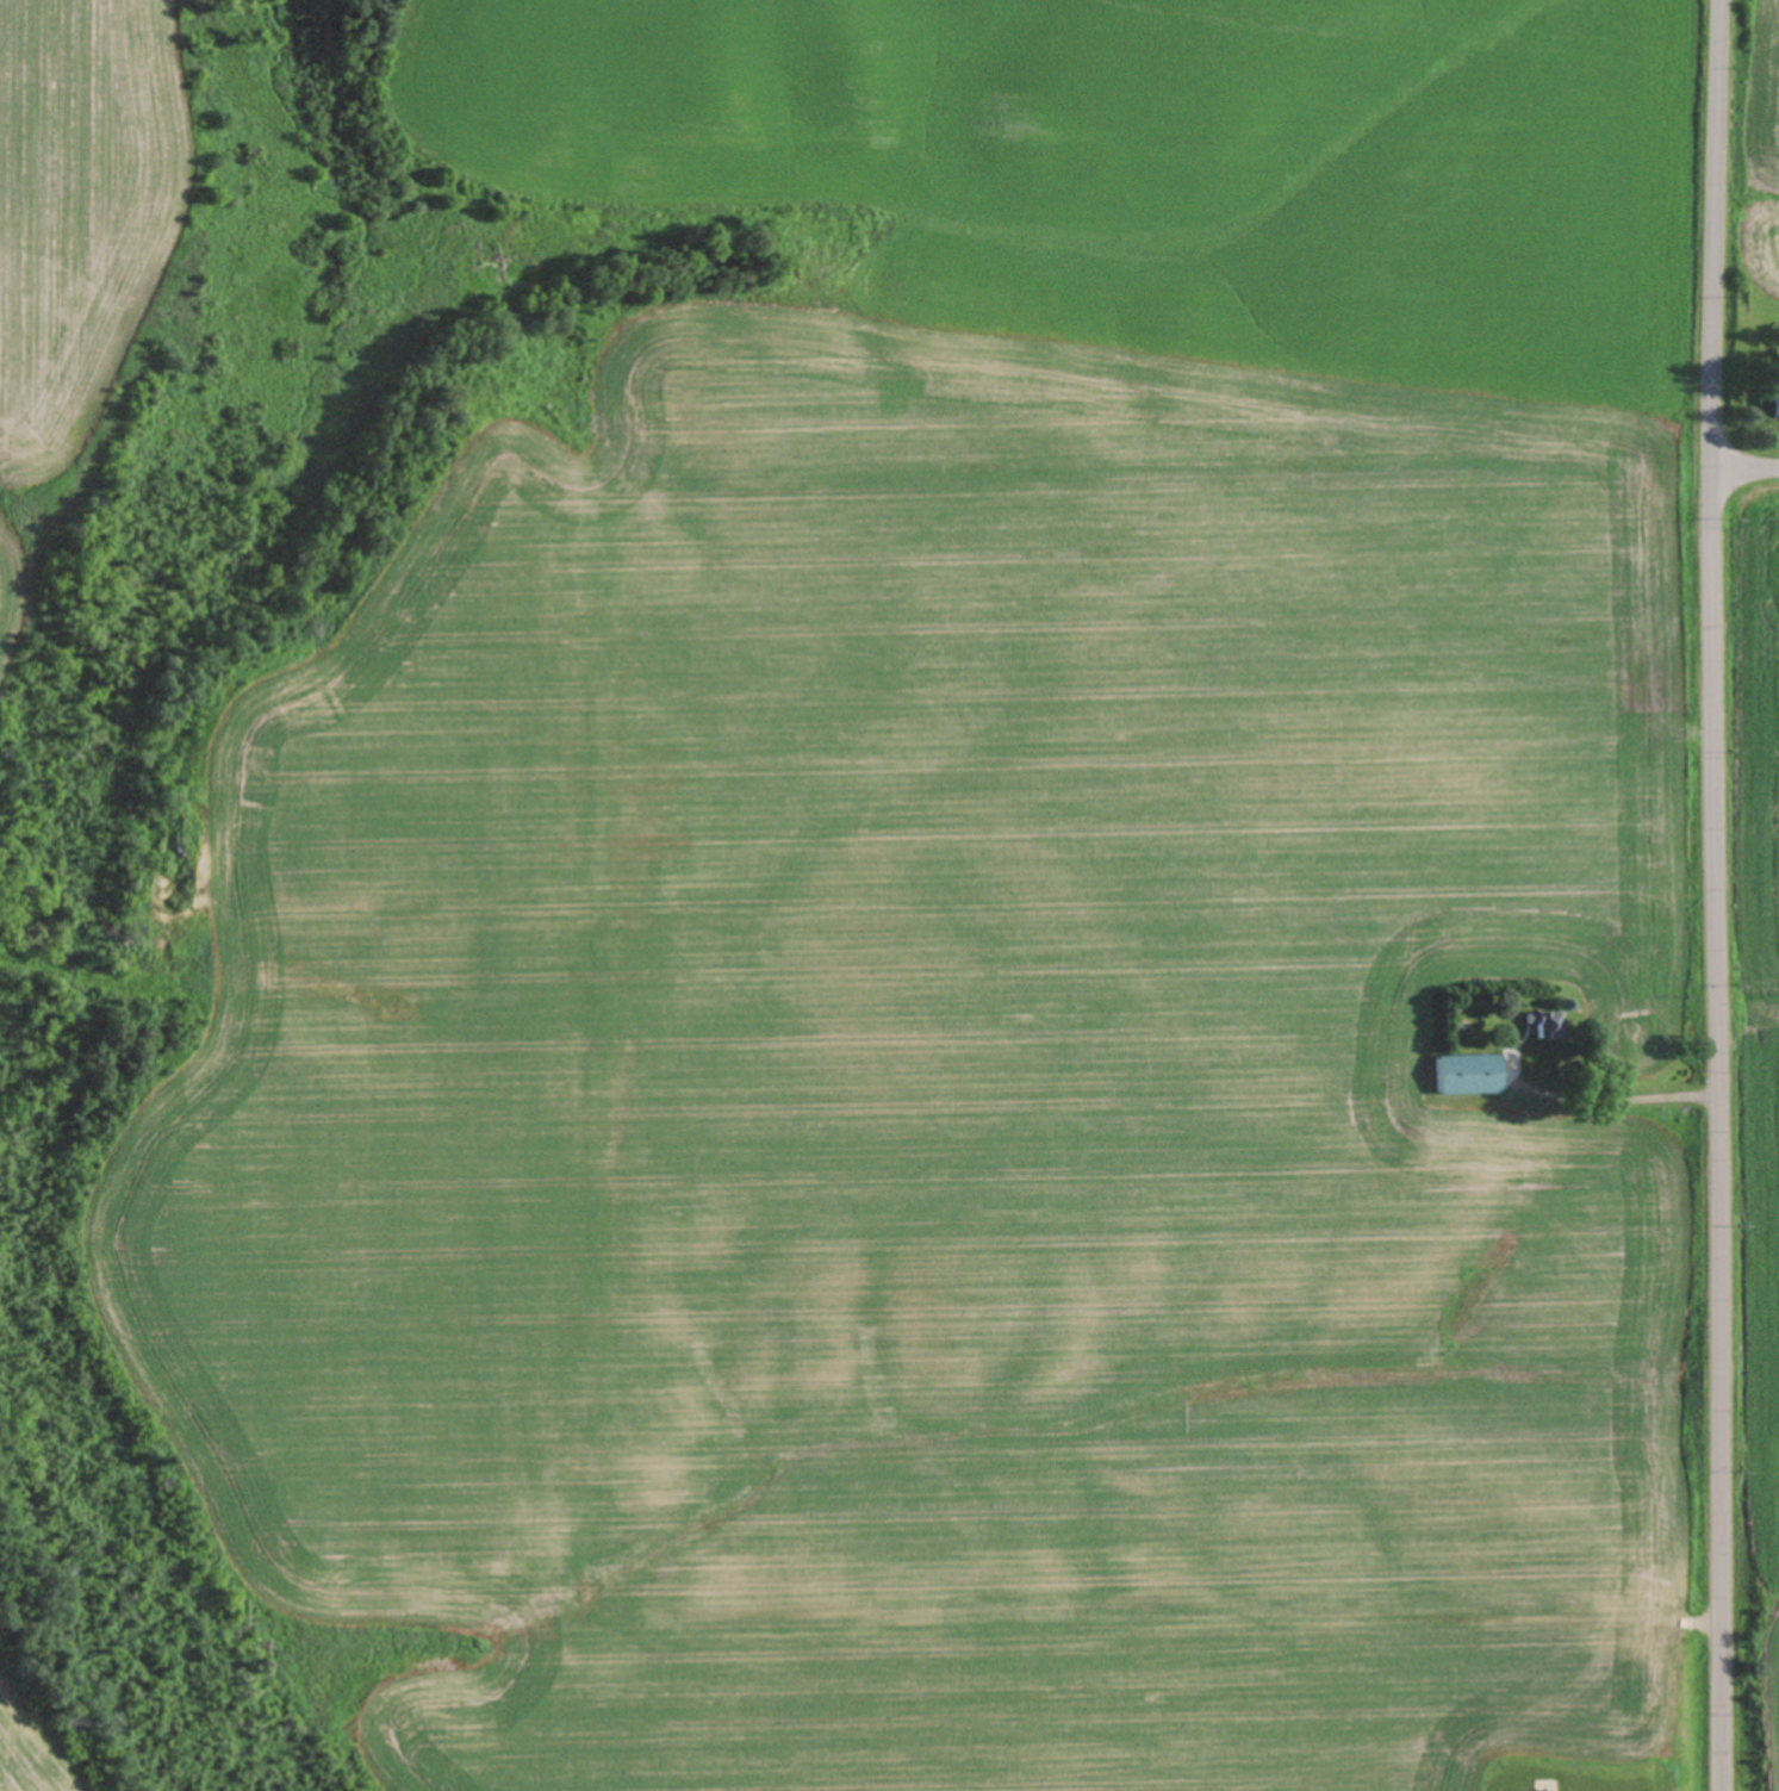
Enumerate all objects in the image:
building: (1769, 410)
road: (1737, 467)
road: (1700, 895)
building: (1485, 1057)
building: (1445, 1068)
building: (1436, 1146)

